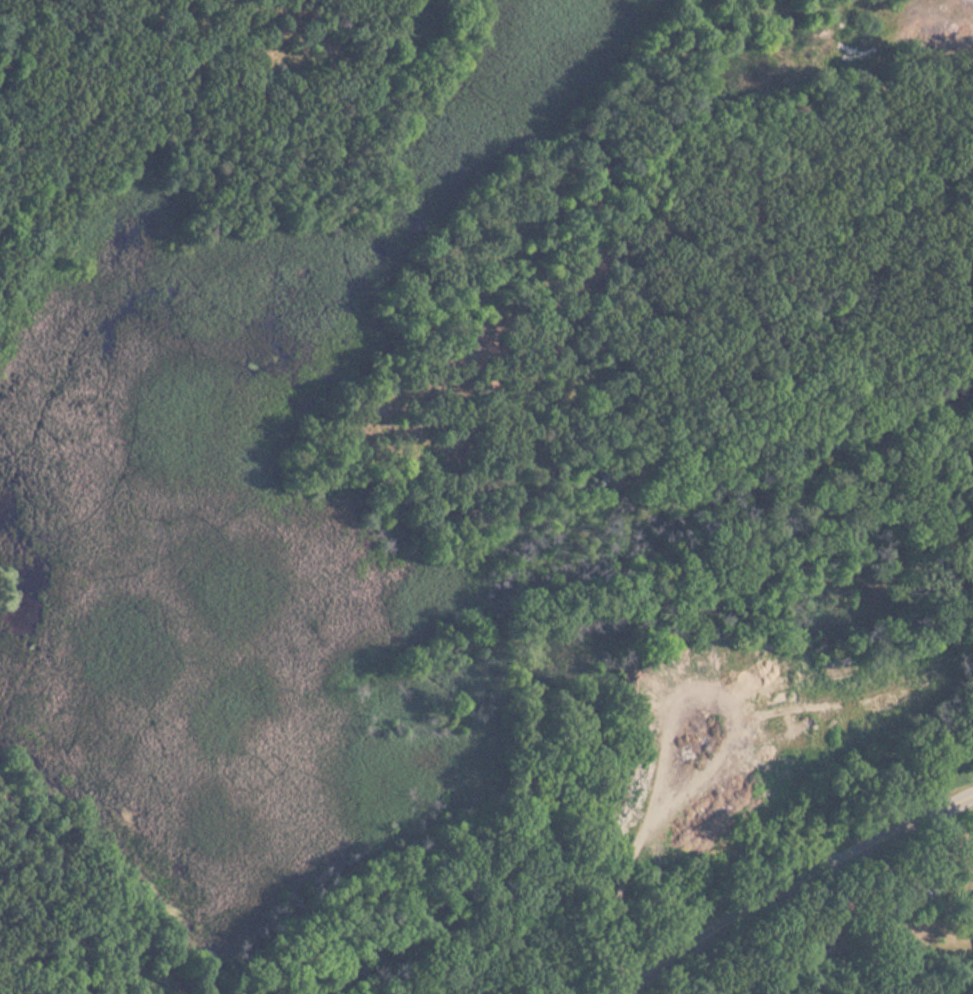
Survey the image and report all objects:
road: (782, 881)
building: (970, 909)

